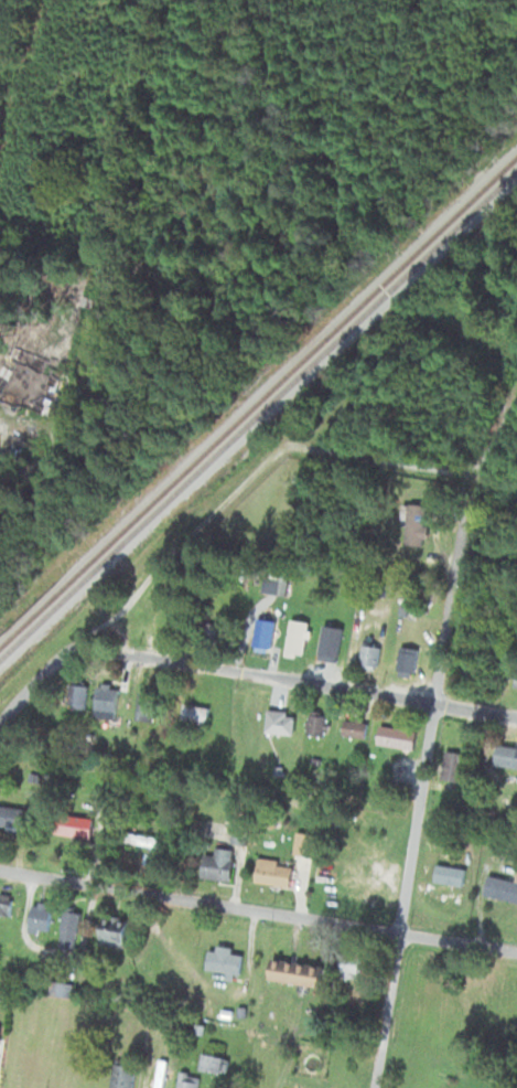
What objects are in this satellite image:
railway: (259, 396)
railway: (259, 410)
road: (280, 449)
building: (413, 521)
building: (278, 583)
building: (266, 636)
building: (299, 641)
building: (332, 649)
building: (373, 659)
building: (410, 663)
building: (474, 674)
road: (281, 679)
building: (516, 690)
road: (23, 696)
building: (79, 698)
building: (107, 704)
building: (148, 710)
building: (196, 717)
building: (283, 725)
building: (321, 726)
building: (357, 732)
building: (399, 739)
building: (508, 759)
building: (453, 760)
road: (421, 791)
building: (15, 818)
building: (75, 826)
building: (240, 834)
building: (143, 841)
building: (305, 844)
building: (220, 866)
building: (274, 874)
building: (503, 889)
building: (6, 905)
road: (258, 911)
building: (42, 919)
building: (72, 929)
building: (116, 934)
building: (224, 962)
building: (352, 967)
building: (298, 973)
building: (62, 990)
building: (162, 1075)
building: (125, 1076)
building: (191, 1080)

